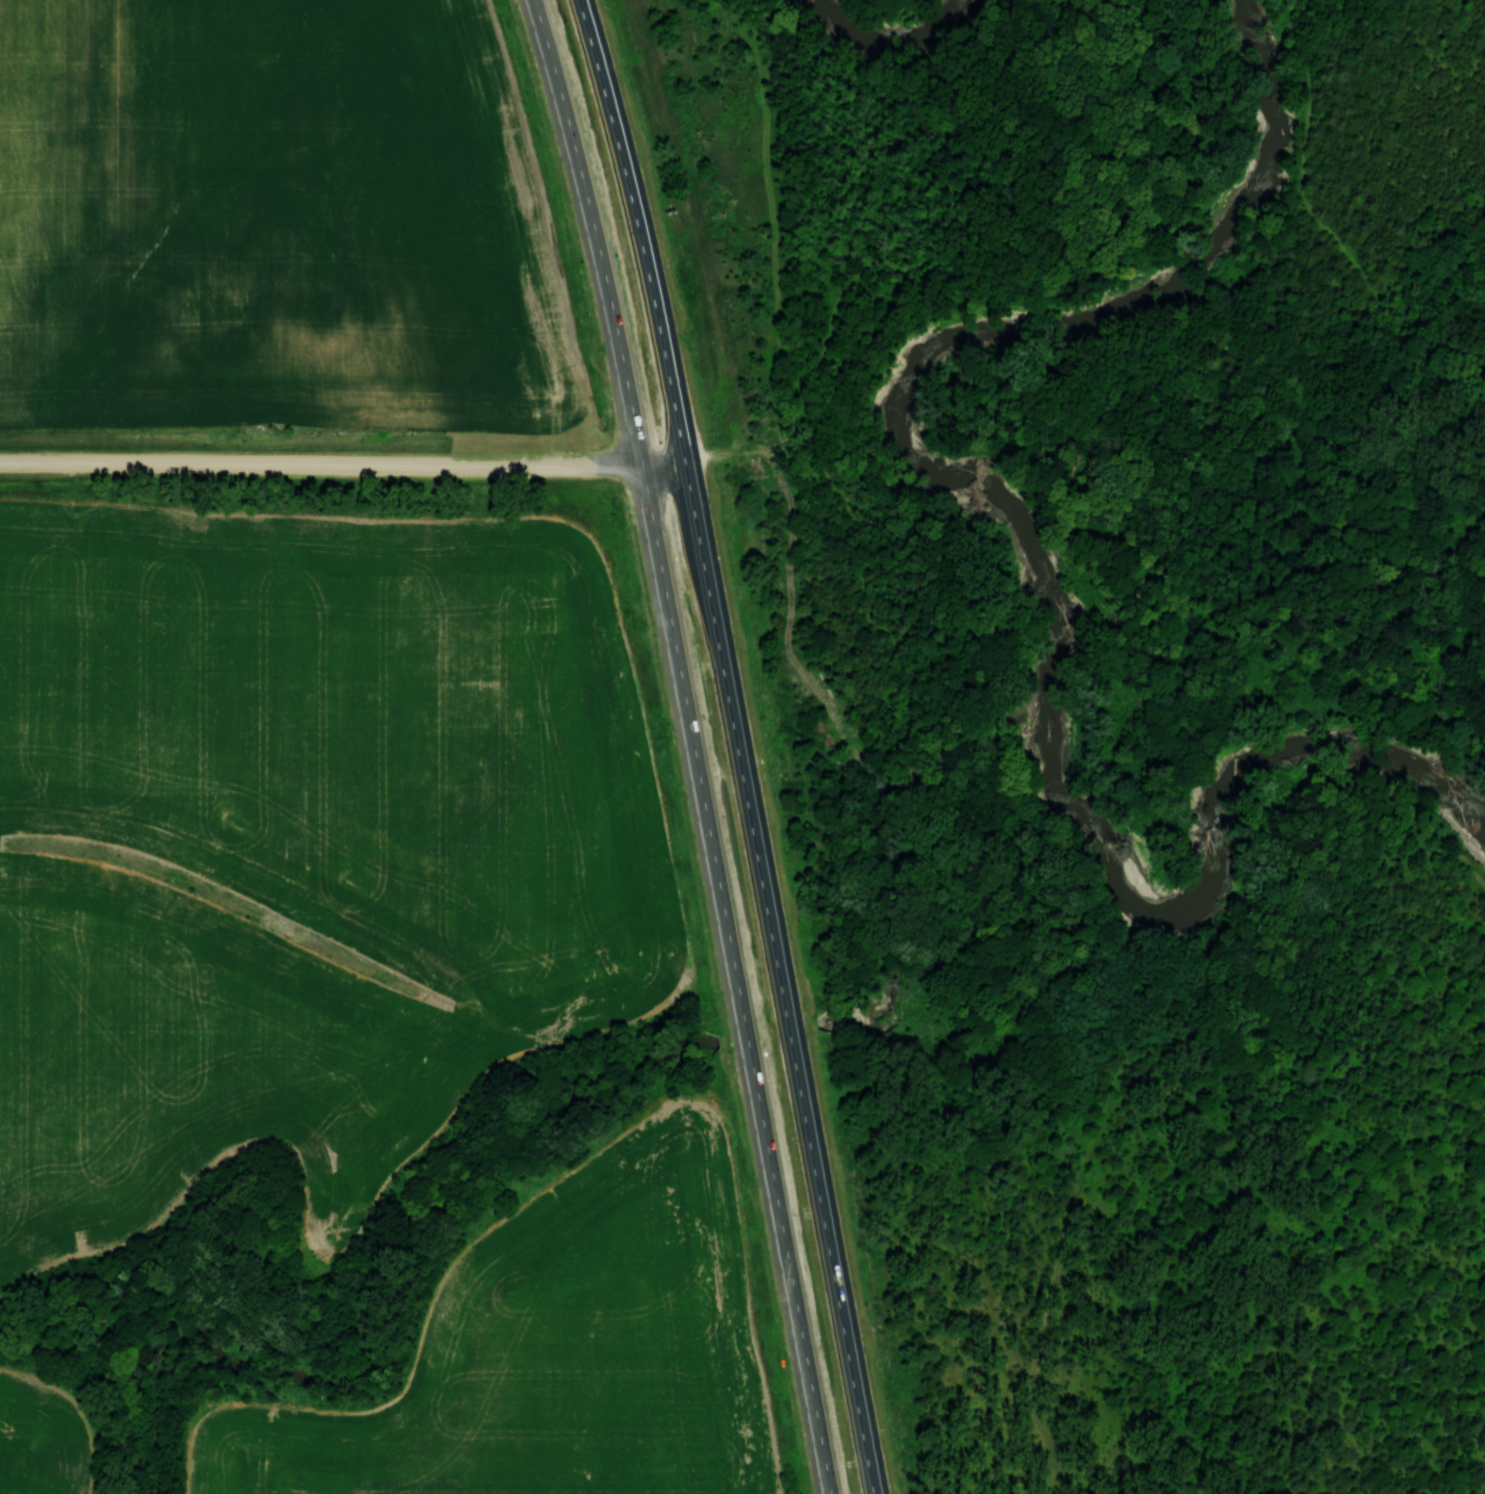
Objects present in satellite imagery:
river: (885, 35)
road: (741, 37)
road: (637, 228)
road: (1328, 229)
road: (590, 230)
road: (831, 332)
river: (990, 334)
road: (748, 449)
road: (342, 462)
park: (1099, 709)
road: (865, 764)
road: (881, 783)
road: (897, 794)
river: (1217, 850)
road: (779, 976)
road: (735, 978)
road: (1106, 1094)

